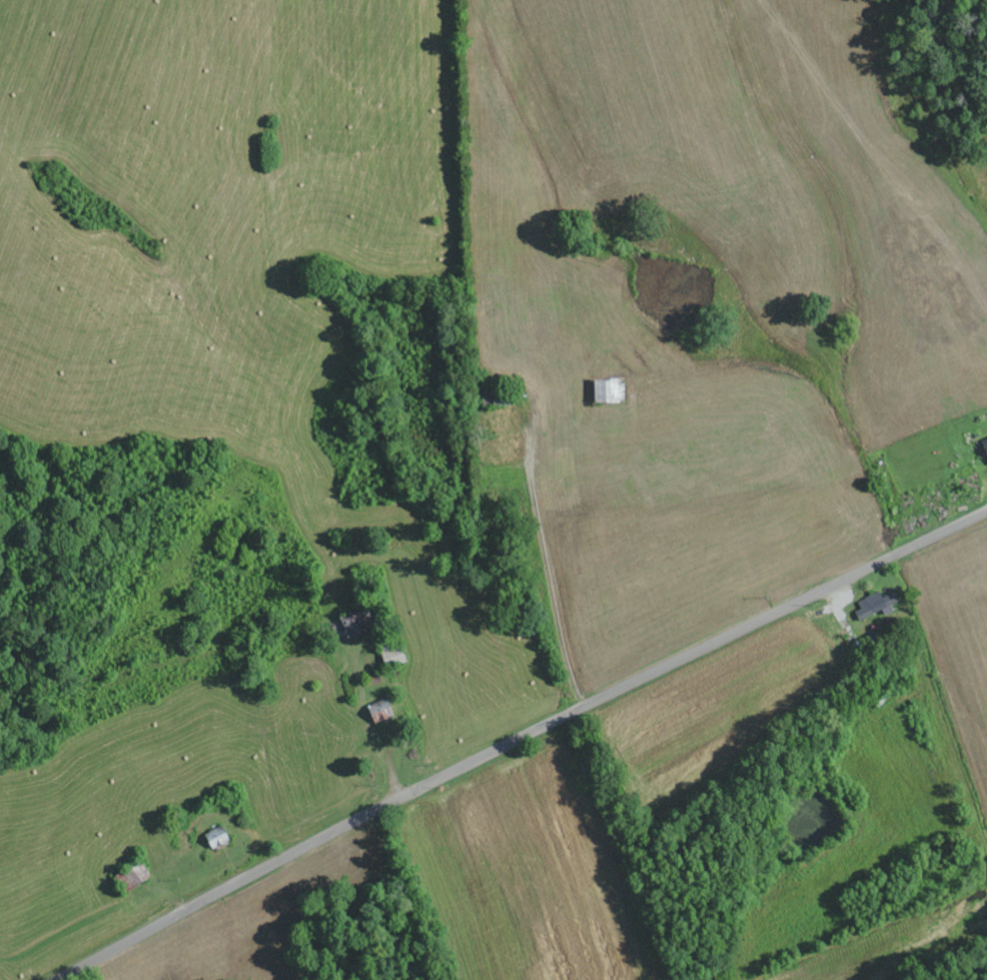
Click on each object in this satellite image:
building: (603, 391)
building: (983, 450)
building: (871, 606)
building: (389, 658)
building: (375, 713)
road: (517, 739)

